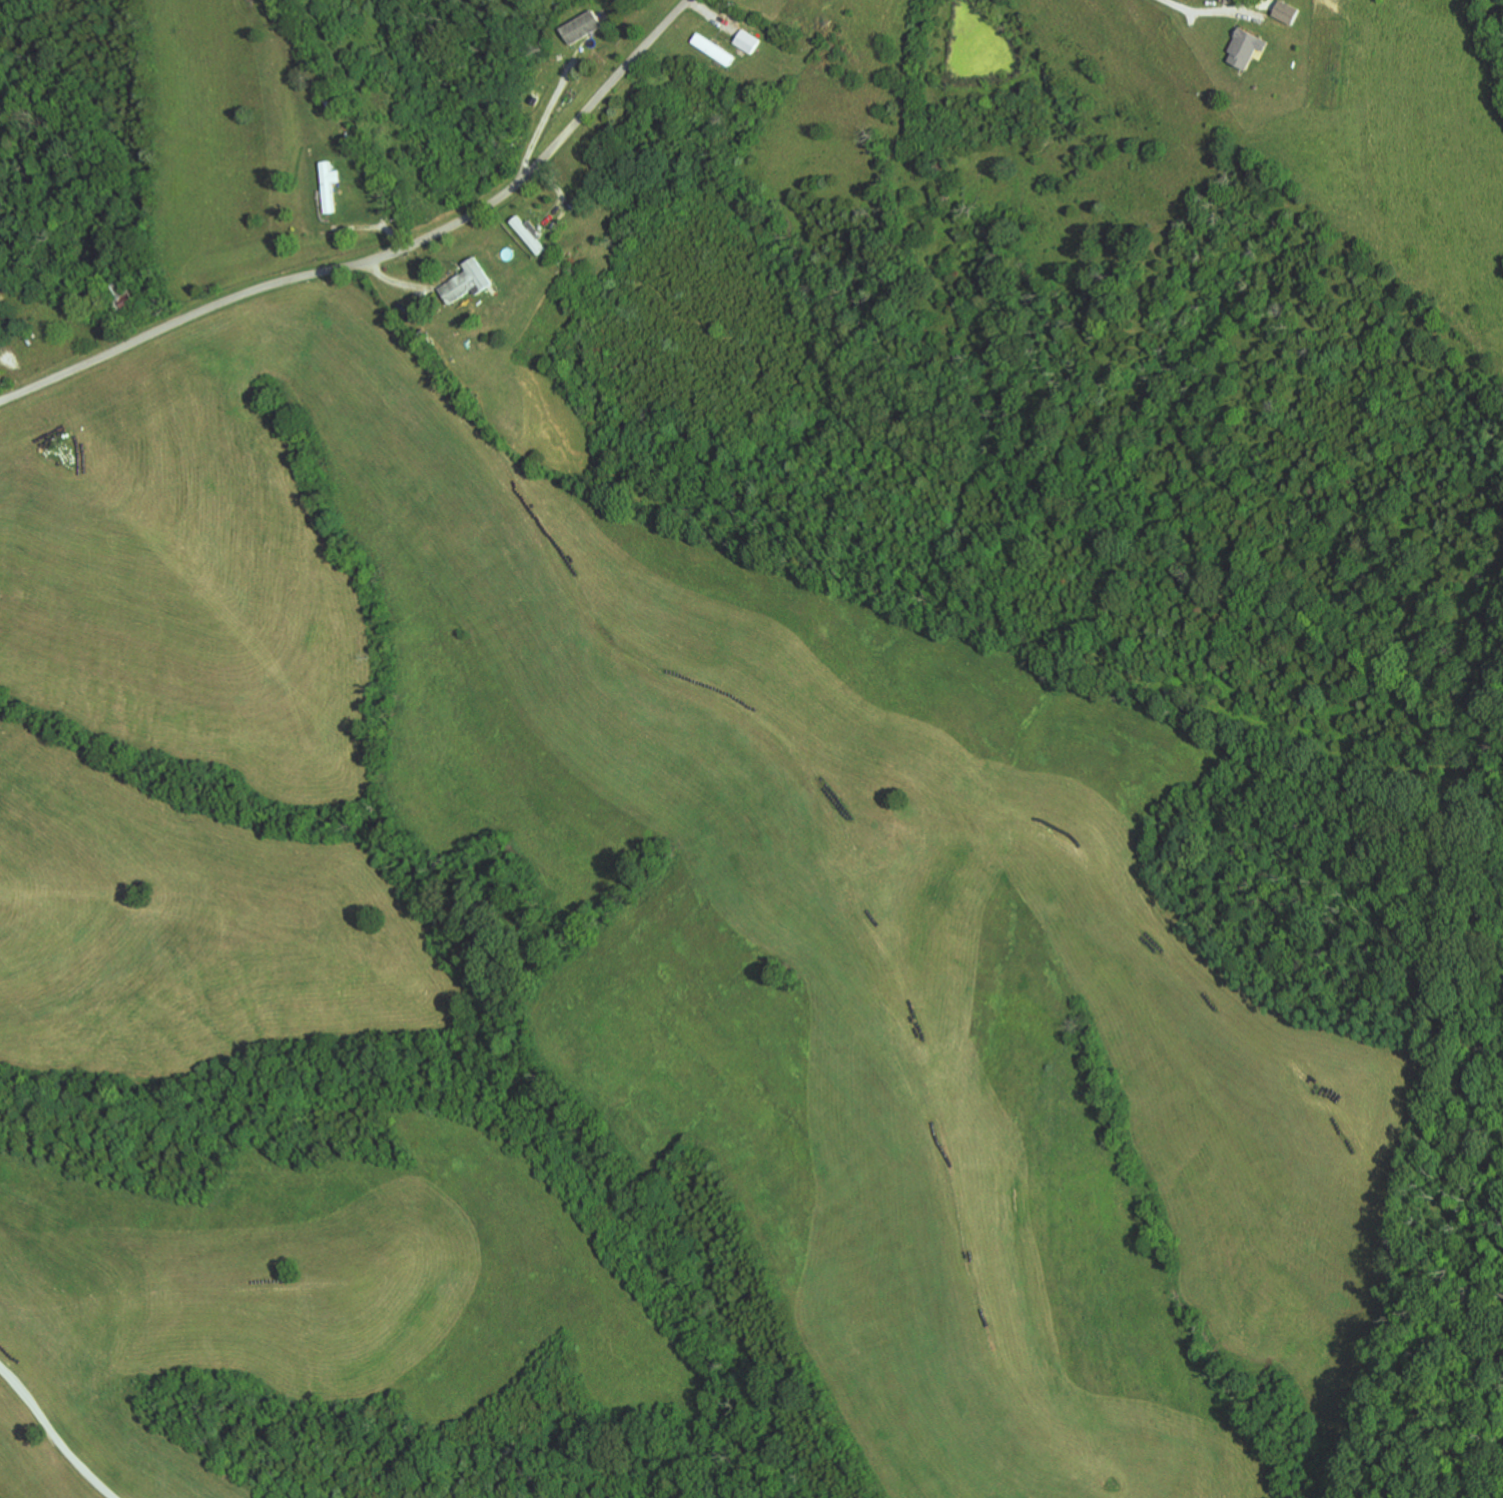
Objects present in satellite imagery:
road: (1205, 10)
building: (1286, 11)
road: (711, 15)
road: (1192, 17)
building: (584, 27)
building: (744, 41)
road: (583, 43)
building: (1245, 47)
building: (710, 48)
building: (330, 101)
road: (543, 120)
building: (351, 136)
building: (332, 185)
road: (563, 198)
road: (372, 226)
building: (529, 233)
road: (380, 257)
building: (559, 260)
road: (394, 280)
building: (472, 281)
building: (121, 296)
road: (54, 1433)

